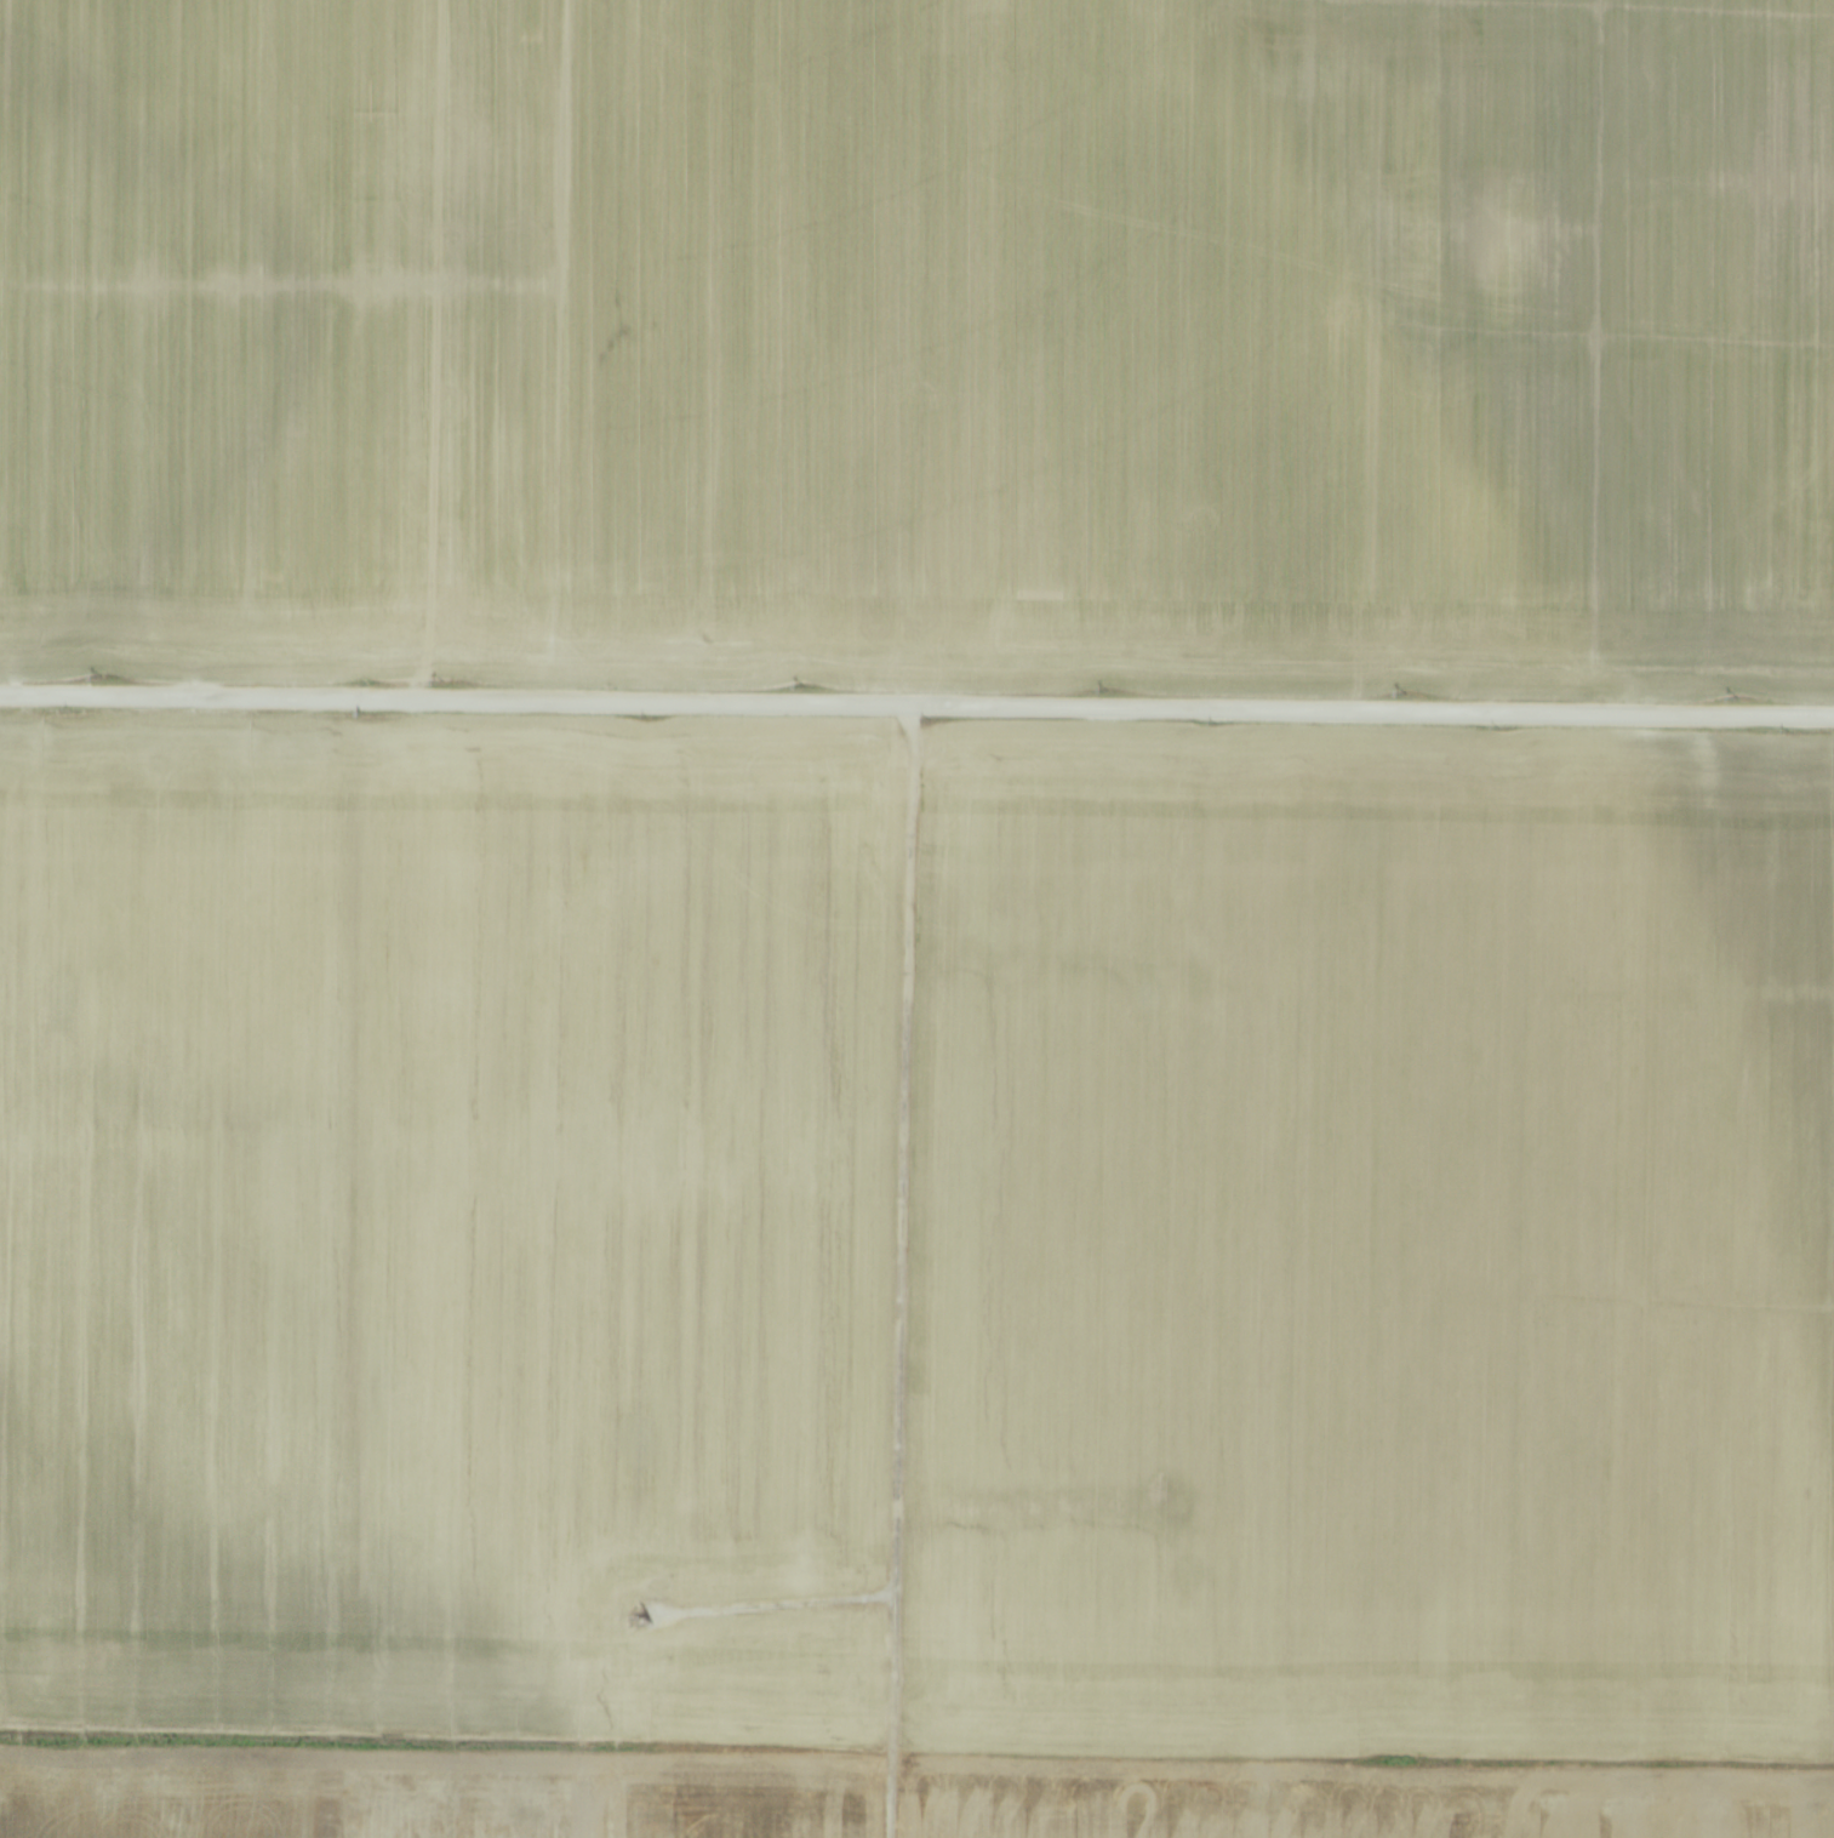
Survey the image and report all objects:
road: (916, 703)
road: (899, 1269)
road: (1034, 1509)
road: (773, 1606)
petroleum well: (642, 1614)

